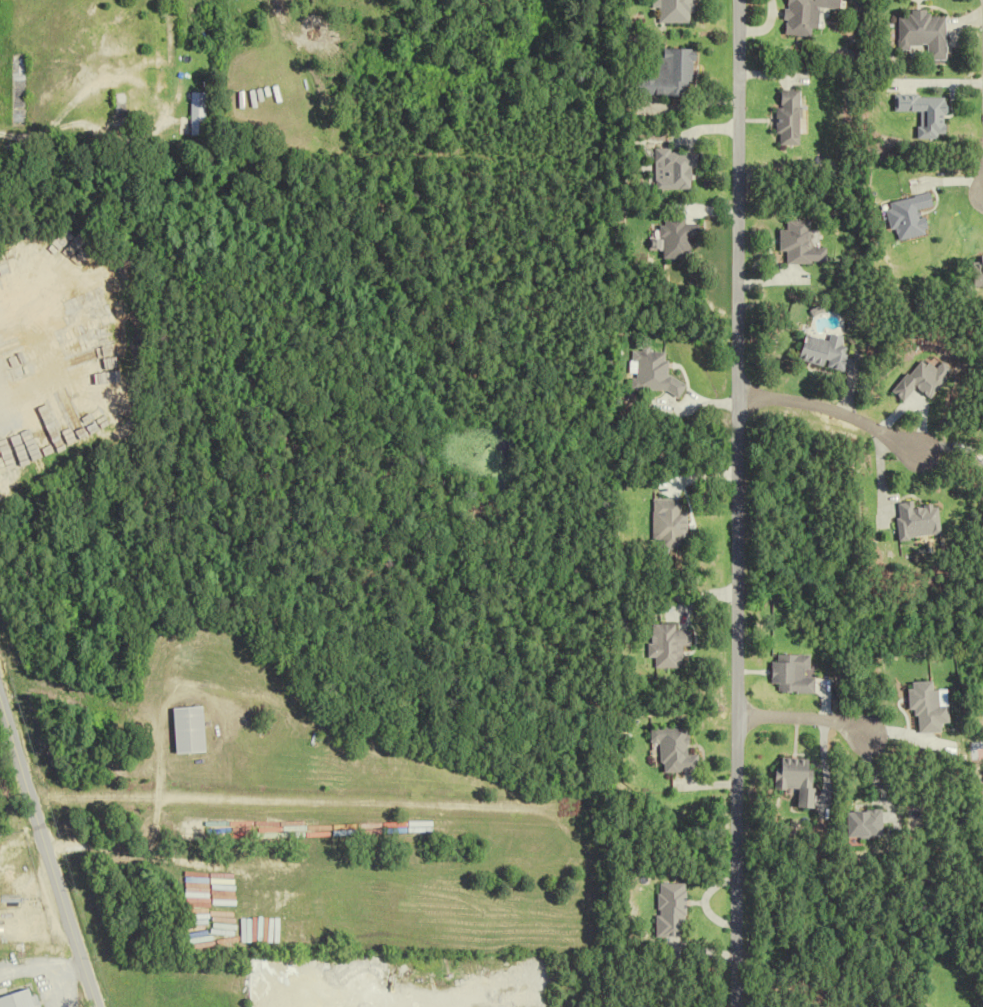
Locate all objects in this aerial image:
building: (678, 11)
building: (807, 15)
building: (927, 33)
building: (673, 74)
building: (197, 113)
building: (930, 113)
building: (790, 117)
road: (71, 124)
road: (6, 143)
building: (676, 170)
building: (913, 215)
building: (678, 238)
building: (803, 244)
building: (980, 273)
building: (829, 352)
building: (67, 369)
building: (652, 373)
road: (822, 409)
road: (944, 446)
road: (734, 503)
building: (921, 520)
building: (671, 524)
building: (670, 645)
building: (794, 674)
building: (929, 707)
road: (799, 716)
building: (190, 730)
building: (677, 749)
building: (800, 778)
road: (152, 811)
building: (869, 824)
road: (46, 856)
building: (672, 910)
building: (22, 1000)

